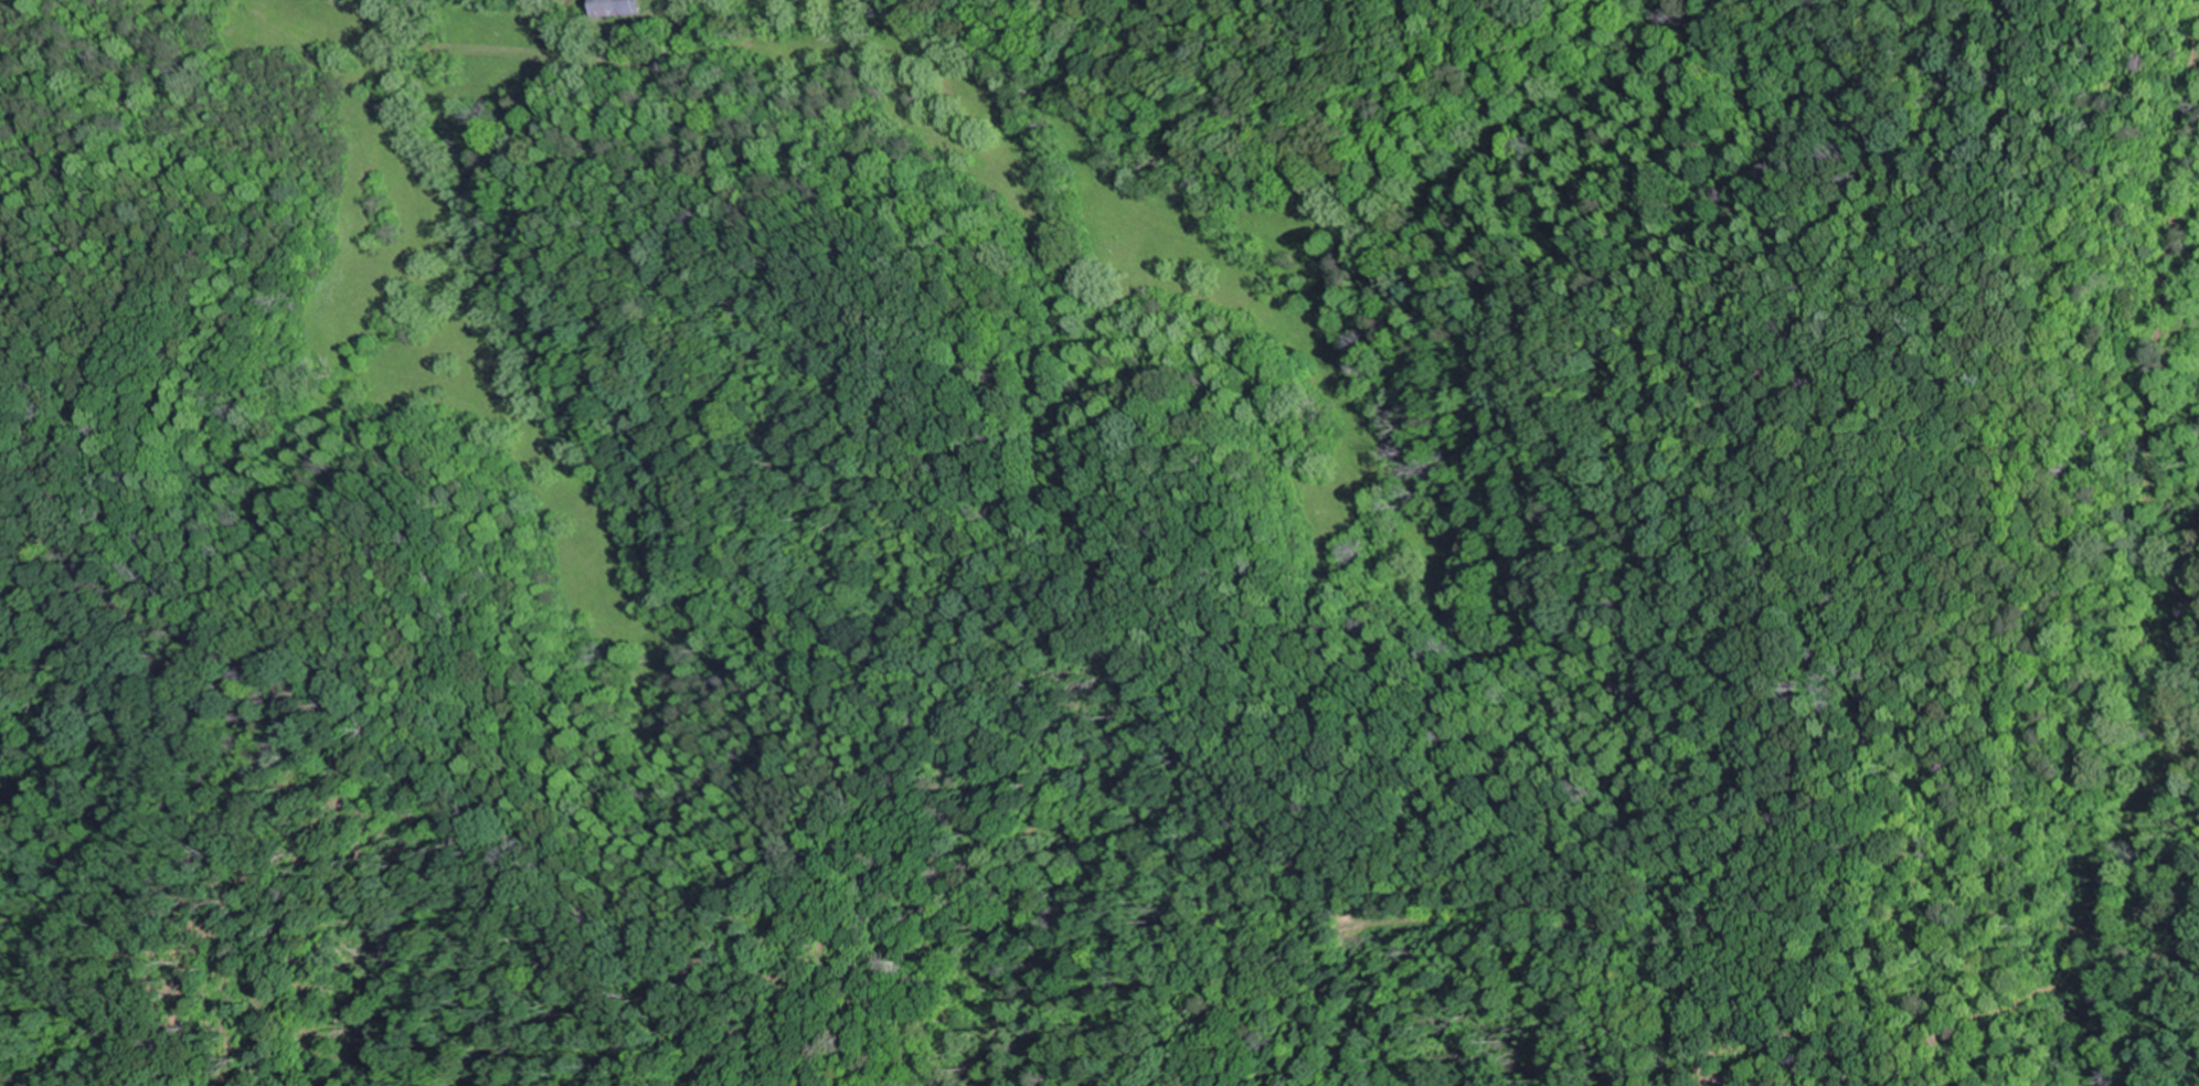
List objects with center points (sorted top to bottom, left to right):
road: (2190, 130)

